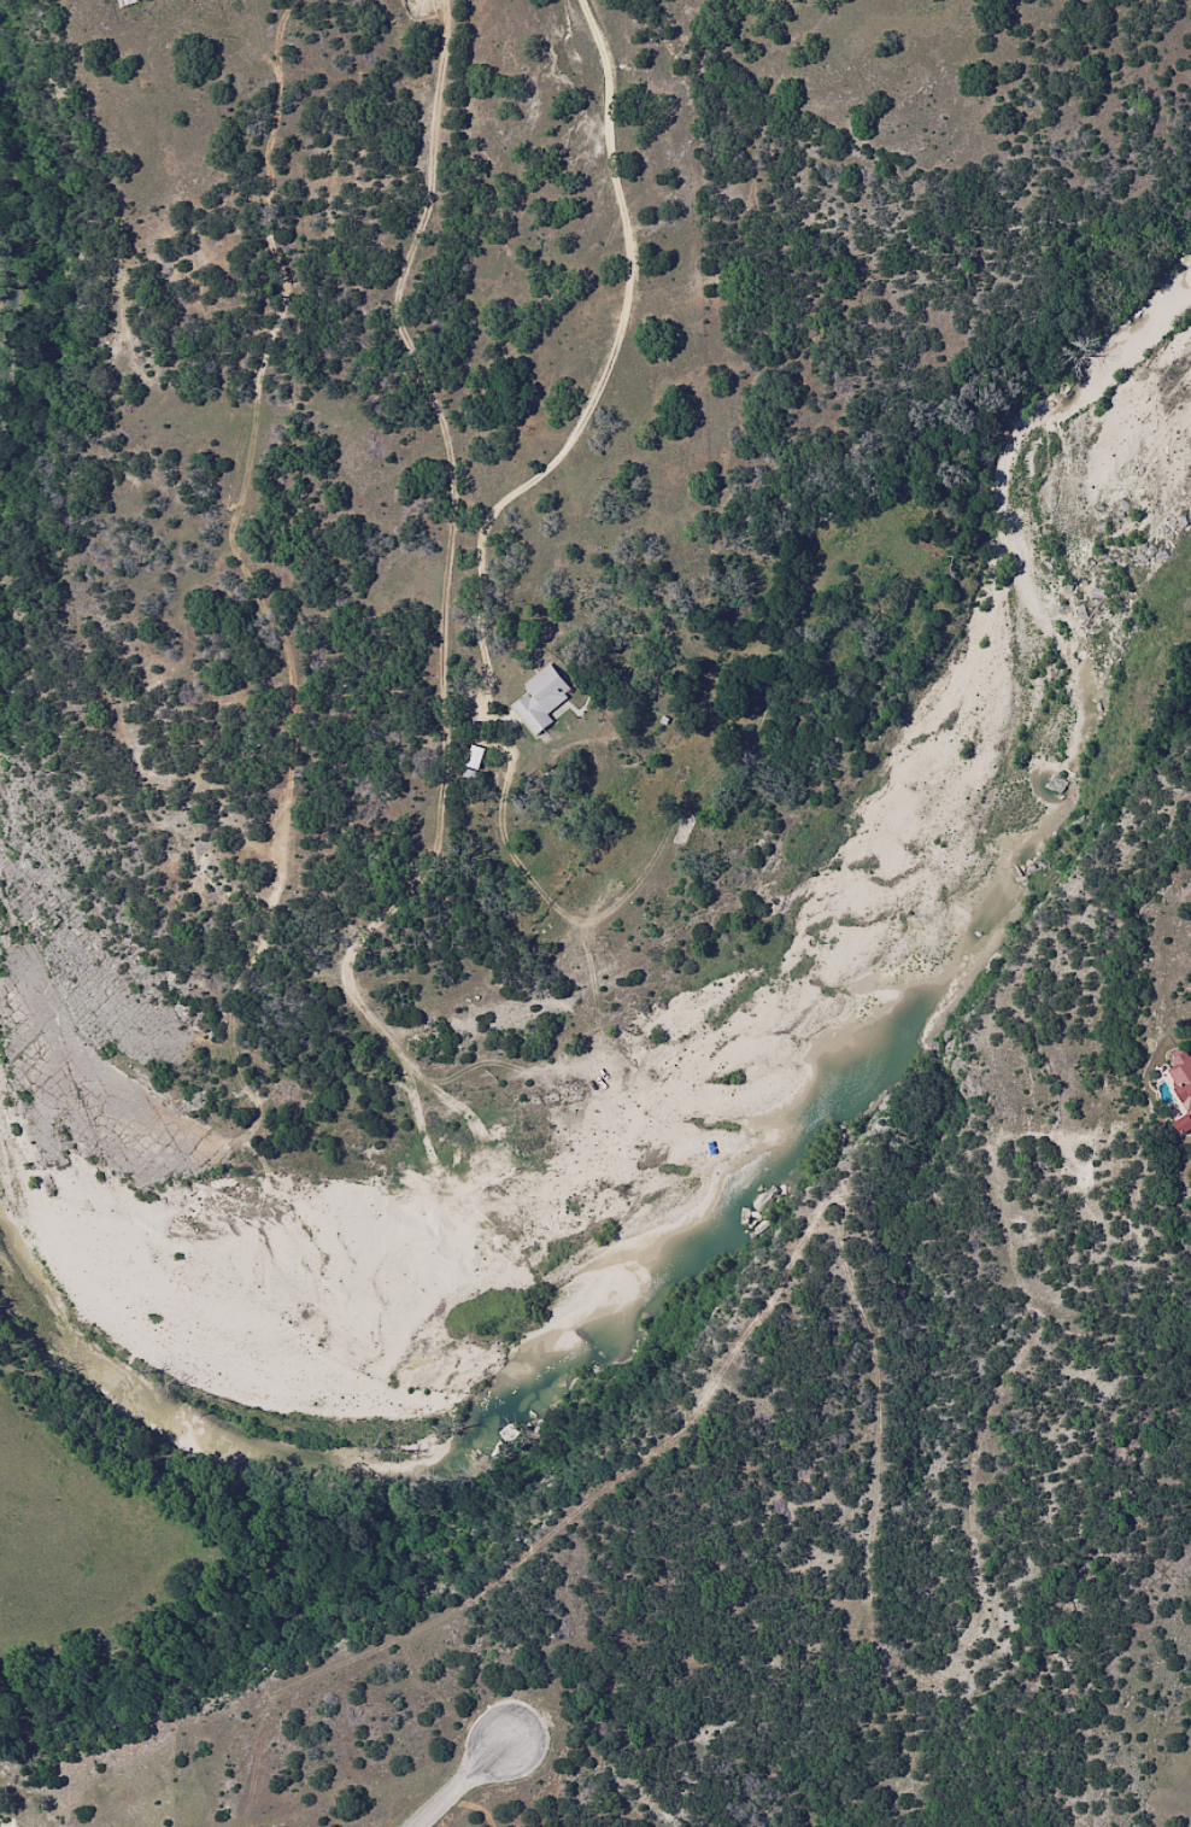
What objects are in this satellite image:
building: (124, 1)
river: (7, 256)
road: (718, 298)
road: (600, 375)
road: (294, 672)
building: (540, 698)
building: (473, 757)
building: (1185, 1064)
building: (1189, 1095)
building: (1185, 1124)
river: (790, 1172)
road: (464, 1786)
building: (4, 1826)

